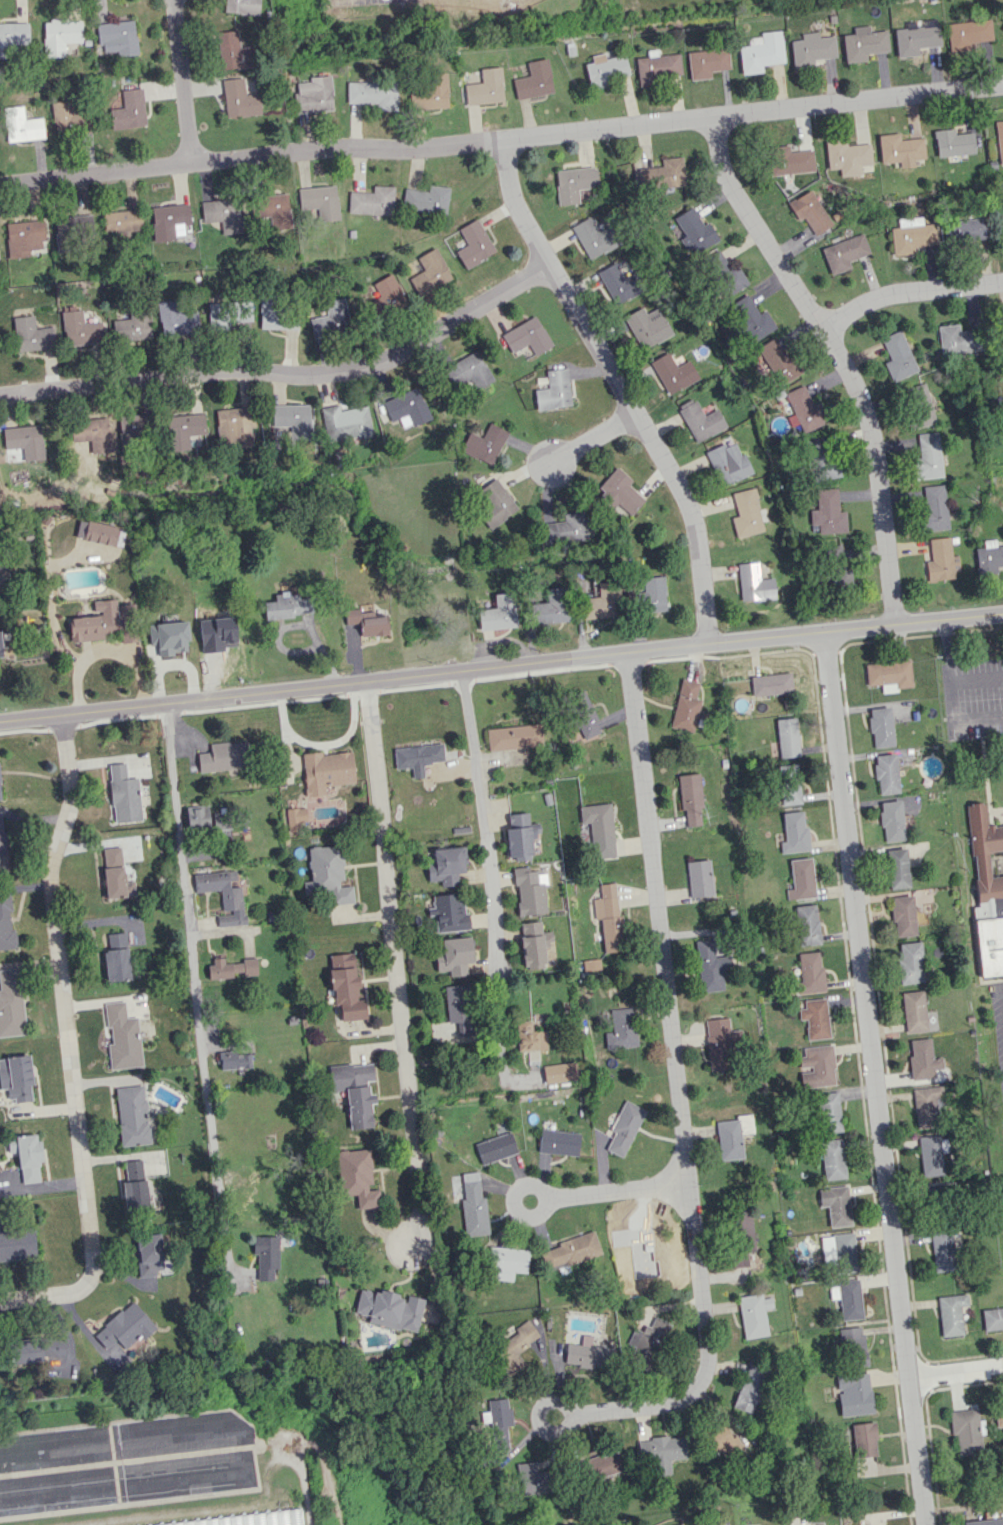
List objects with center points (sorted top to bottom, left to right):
building: (241, 6)
building: (1002, 30)
building: (968, 34)
building: (59, 36)
building: (12, 37)
building: (117, 37)
building: (916, 39)
building: (864, 43)
building: (812, 49)
building: (233, 51)
building: (761, 52)
building: (707, 62)
building: (658, 67)
building: (604, 69)
building: (533, 80)
road: (183, 81)
building: (485, 88)
building: (429, 93)
building: (373, 94)
building: (314, 95)
building: (239, 99)
building: (129, 110)
building: (66, 115)
building: (21, 125)
road: (501, 139)
building: (999, 140)
building: (953, 143)
building: (900, 149)
building: (847, 157)
building: (790, 160)
building: (660, 174)
building: (574, 183)
building: (426, 199)
building: (319, 201)
building: (372, 201)
building: (1002, 201)
building: (273, 209)
building: (810, 212)
building: (222, 214)
building: (168, 220)
building: (122, 221)
building: (965, 229)
building: (71, 230)
building: (693, 231)
building: (913, 235)
building: (24, 237)
building: (594, 238)
building: (473, 244)
building: (844, 253)
building: (430, 272)
building: (723, 272)
building: (617, 283)
road: (908, 290)
building: (385, 295)
building: (274, 315)
building: (224, 316)
building: (177, 318)
building: (331, 319)
building: (751, 319)
building: (132, 326)
building: (647, 327)
building: (80, 329)
building: (31, 335)
building: (526, 336)
building: (958, 339)
building: (898, 356)
road: (839, 357)
building: (777, 360)
building: (468, 371)
road: (287, 373)
building: (672, 373)
road: (619, 386)
building: (554, 390)
building: (919, 405)
building: (406, 408)
building: (803, 408)
building: (292, 419)
building: (699, 420)
building: (344, 422)
building: (137, 426)
building: (234, 427)
building: (183, 429)
building: (91, 433)
road: (593, 439)
building: (24, 440)
building: (484, 444)
building: (81, 447)
building: (928, 456)
building: (820, 457)
building: (727, 462)
building: (620, 492)
building: (495, 503)
building: (934, 508)
building: (827, 512)
building: (747, 513)
building: (564, 530)
building: (99, 533)
building: (989, 557)
building: (941, 560)
building: (836, 569)
building: (753, 583)
building: (648, 596)
building: (602, 602)
building: (287, 606)
building: (551, 607)
building: (499, 613)
building: (366, 622)
building: (92, 627)
building: (168, 637)
building: (0, 650)
road: (501, 665)
building: (889, 675)
road: (950, 676)
building: (770, 684)
building: (685, 706)
building: (583, 715)
building: (880, 727)
building: (516, 736)
building: (787, 737)
building: (224, 756)
building: (417, 758)
building: (326, 771)
building: (886, 774)
building: (789, 784)
building: (123, 794)
building: (0, 796)
building: (689, 798)
road: (484, 819)
building: (220, 821)
building: (891, 821)
building: (598, 829)
building: (793, 832)
building: (519, 836)
building: (2, 850)
building: (445, 865)
building: (897, 868)
building: (113, 872)
building: (327, 875)
building: (698, 879)
building: (801, 879)
building: (529, 891)
building: (987, 891)
building: (223, 895)
building: (448, 913)
building: (903, 916)
building: (608, 918)
building: (6, 923)
building: (807, 925)
building: (533, 944)
building: (453, 954)
building: (116, 958)
road: (394, 962)
building: (910, 963)
road: (194, 965)
building: (709, 966)
building: (231, 968)
building: (810, 973)
building: (345, 987)
road: (63, 997)
building: (11, 1003)
building: (459, 1008)
building: (914, 1011)
building: (815, 1018)
building: (621, 1029)
building: (122, 1037)
building: (530, 1037)
road: (499, 1039)
building: (720, 1044)
building: (923, 1059)
building: (234, 1060)
building: (816, 1067)
building: (559, 1072)
building: (351, 1075)
road: (873, 1077)
building: (927, 1106)
building: (359, 1107)
building: (829, 1112)
building: (132, 1115)
building: (624, 1127)
building: (732, 1136)
road: (683, 1138)
building: (558, 1142)
building: (495, 1148)
building: (930, 1155)
building: (28, 1158)
building: (832, 1159)
building: (357, 1177)
building: (135, 1187)
building: (935, 1189)
road: (567, 1195)
building: (835, 1204)
building: (473, 1205)
building: (742, 1230)
building: (16, 1242)
building: (639, 1247)
building: (570, 1251)
building: (839, 1251)
building: (942, 1251)
building: (266, 1255)
building: (150, 1256)
building: (506, 1262)
road: (45, 1296)
building: (847, 1298)
building: (389, 1309)
building: (951, 1314)
building: (753, 1315)
building: (992, 1319)
building: (124, 1327)
building: (646, 1343)
building: (514, 1346)
building: (134, 1347)
building: (853, 1347)
building: (36, 1350)
building: (588, 1355)
road: (955, 1369)
building: (750, 1388)
building: (854, 1394)
building: (999, 1415)
building: (497, 1421)
building: (965, 1431)
building: (720, 1439)
building: (864, 1439)
building: (660, 1452)
building: (604, 1464)
building: (533, 1479)
building: (259, 1520)
building: (983, 1522)

